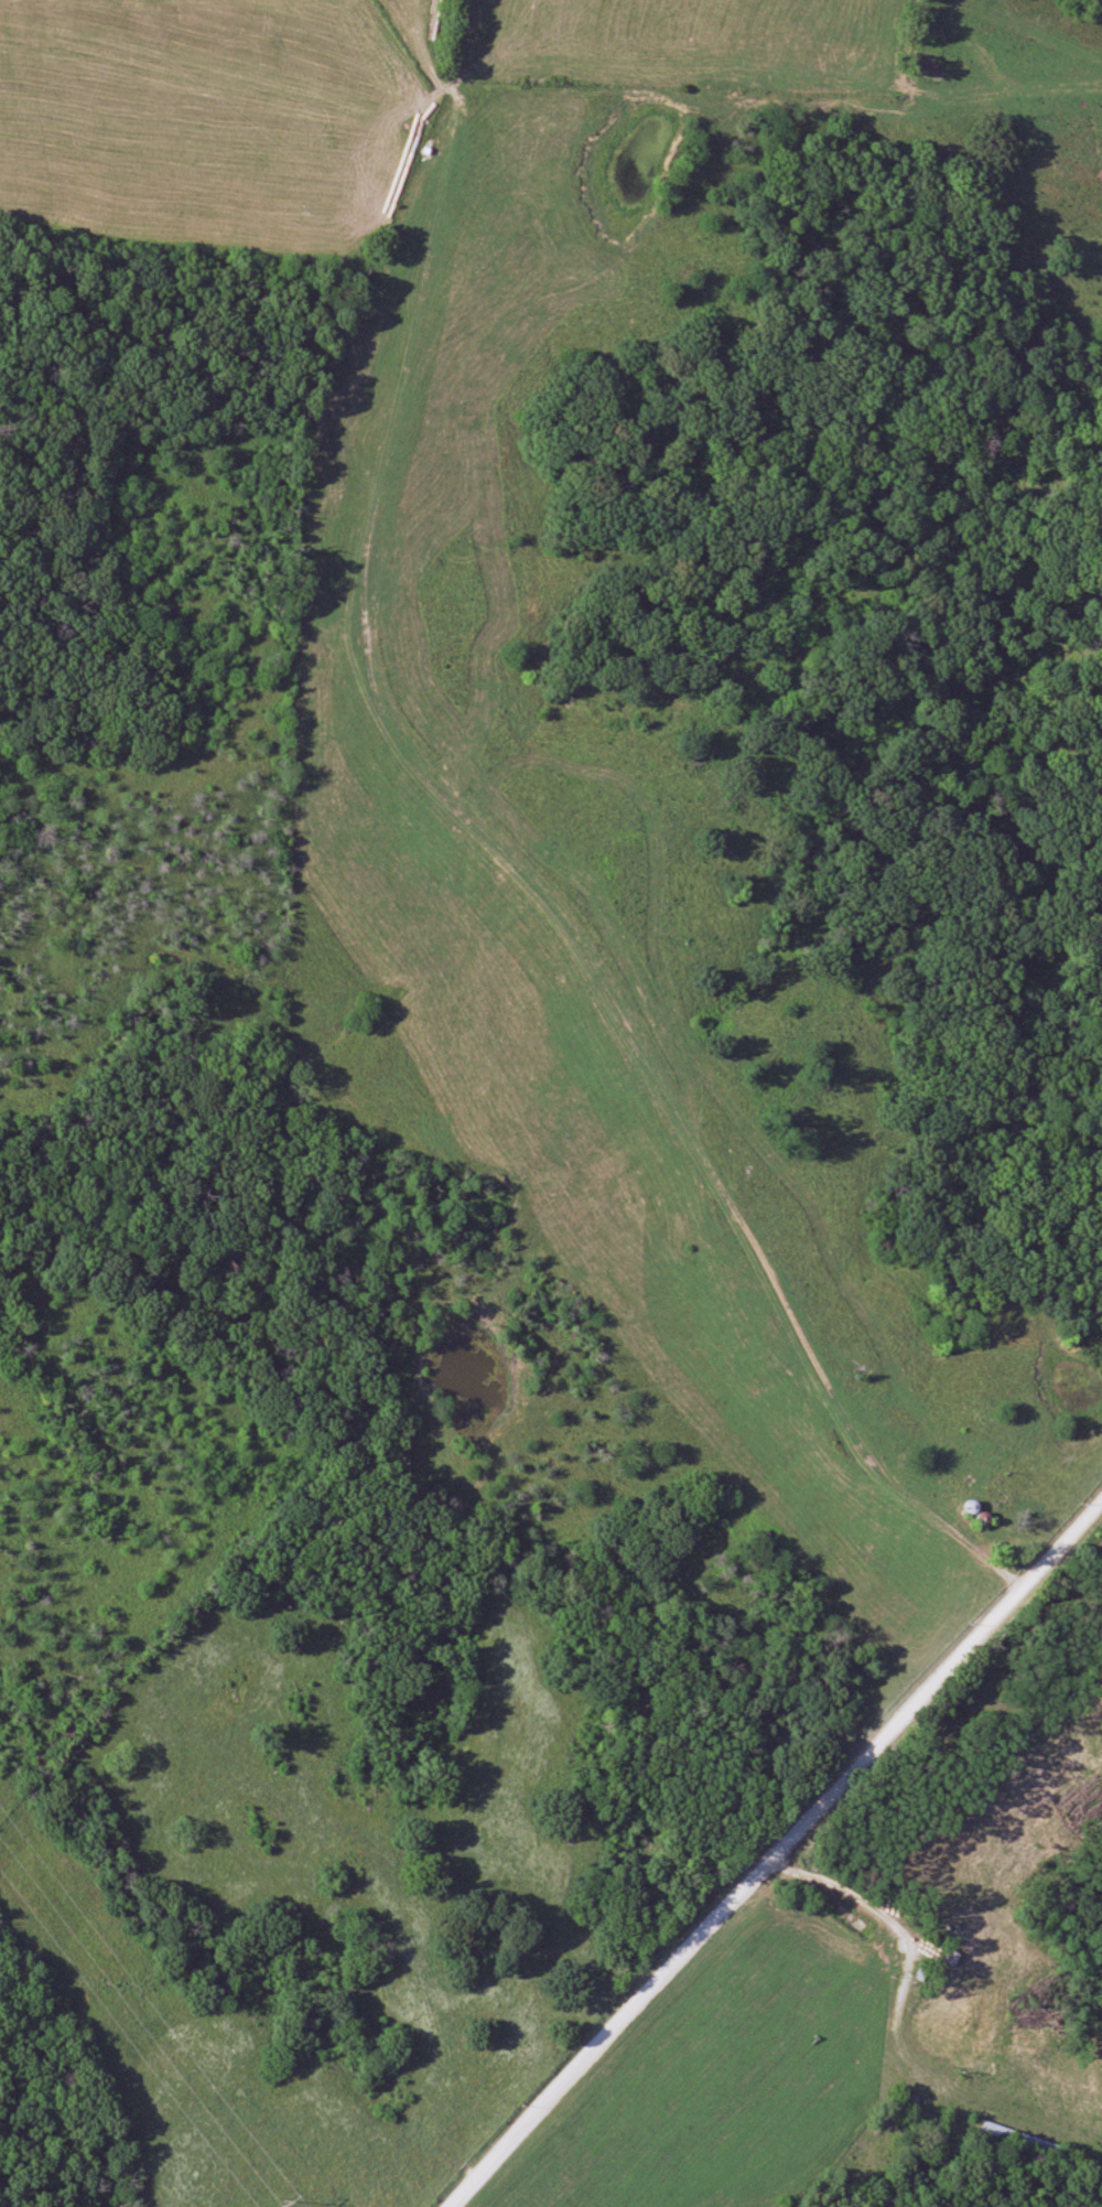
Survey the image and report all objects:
road: (774, 1851)
road: (906, 1941)
crop: (707, 2070)
building: (1020, 2140)

